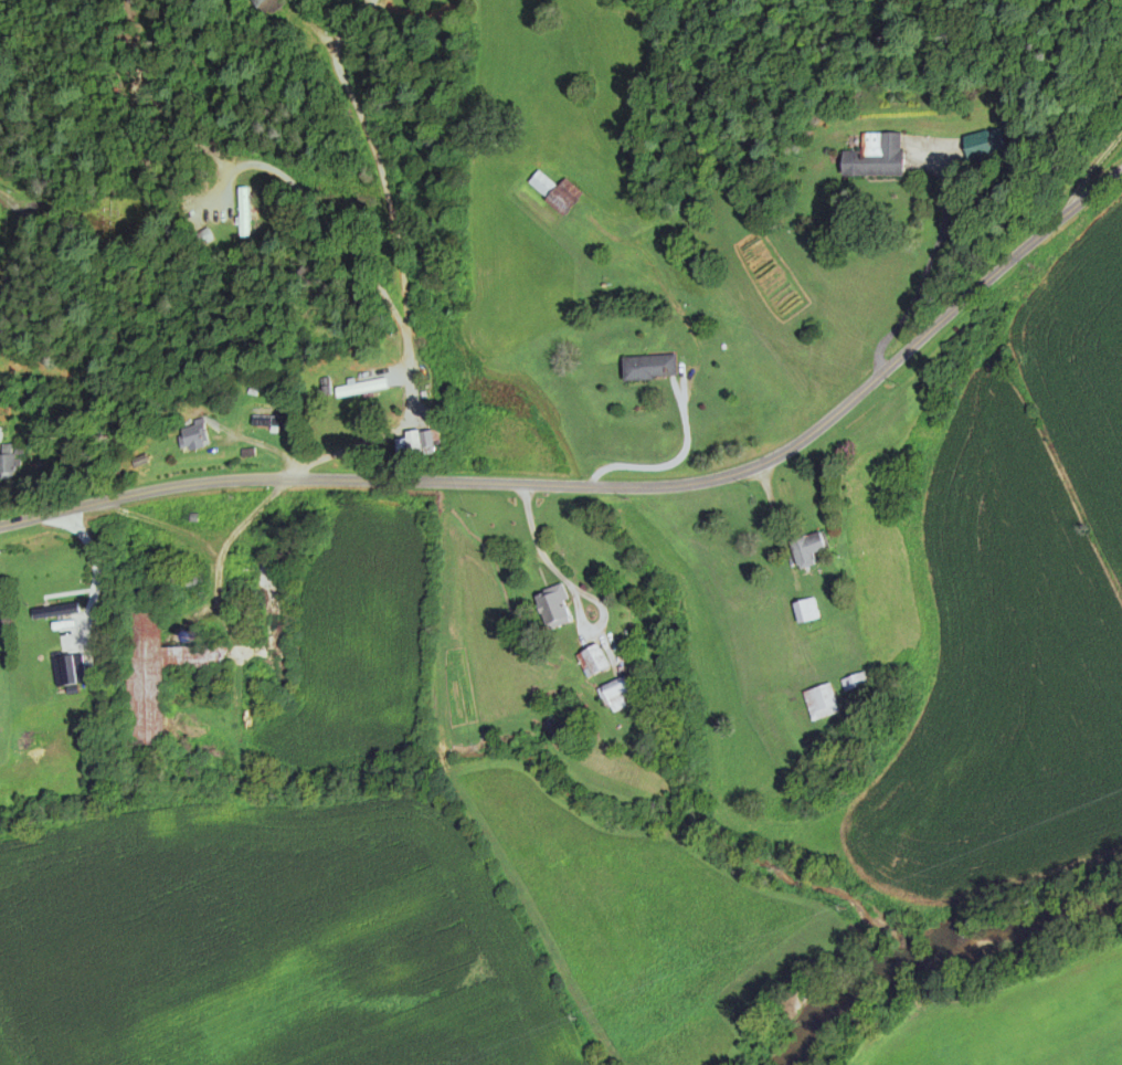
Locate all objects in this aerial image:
building: (265, 7)
building: (983, 146)
building: (875, 158)
building: (554, 192)
building: (242, 215)
building: (202, 239)
road: (12, 251)
road: (394, 266)
road: (923, 273)
building: (648, 369)
road: (691, 370)
building: (359, 390)
building: (266, 423)
building: (191, 437)
building: (6, 470)
road: (612, 486)
road: (250, 514)
road: (536, 544)
road: (204, 547)
building: (806, 549)
building: (183, 581)
building: (552, 608)
building: (804, 612)
building: (53, 613)
building: (591, 661)
building: (155, 673)
building: (854, 683)
building: (616, 694)
building: (819, 703)
river: (938, 947)

